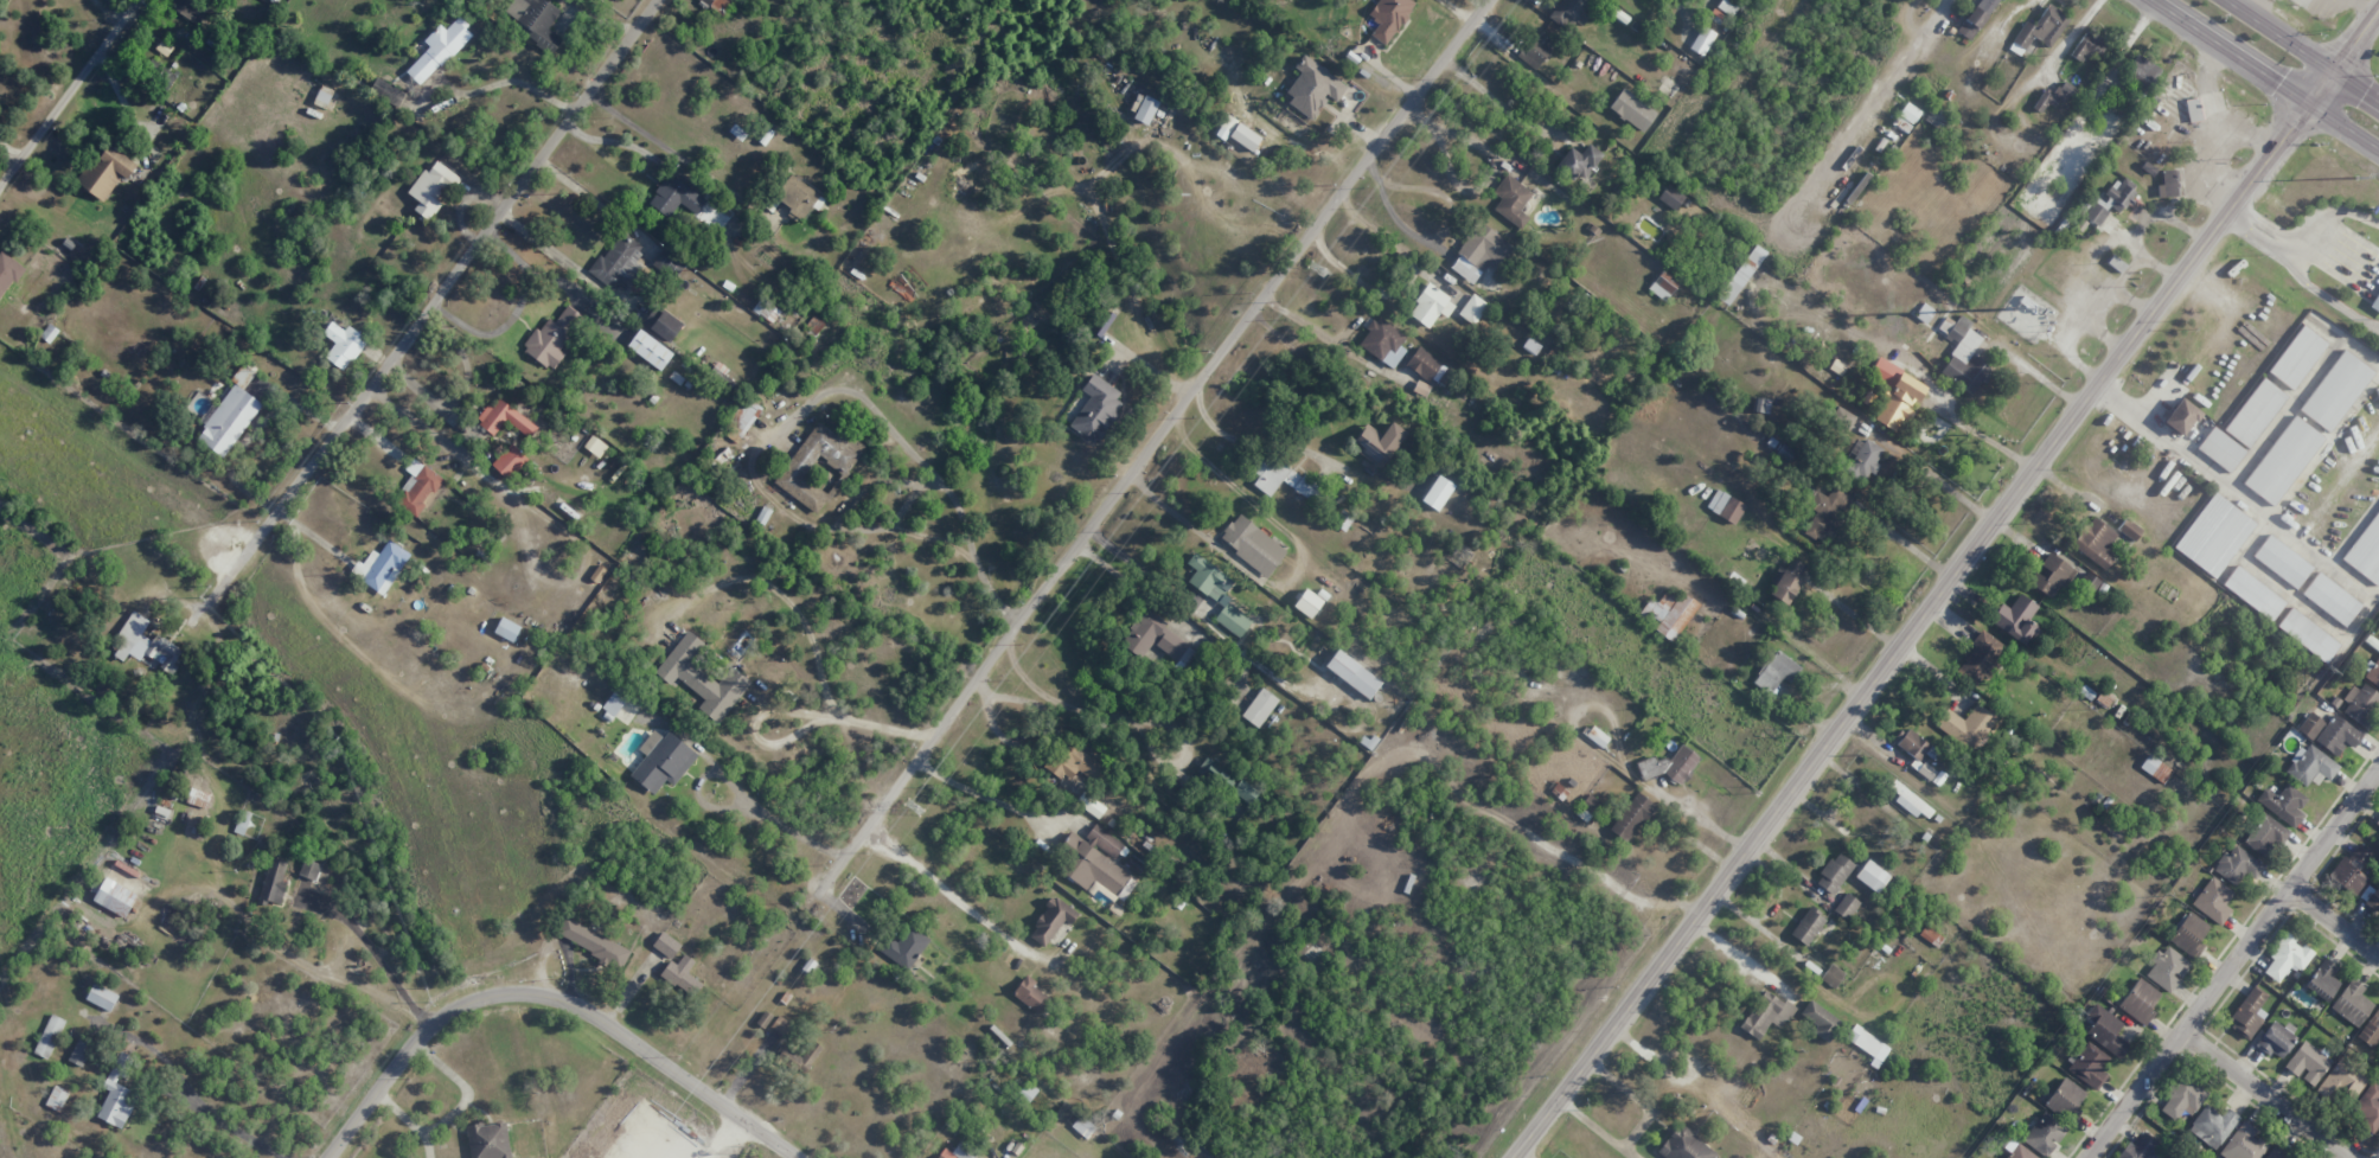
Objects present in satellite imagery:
building: (706, 1)
building: (722, 4)
building: (1726, 7)
building: (191, 9)
building: (1569, 13)
building: (1388, 17)
building: (1977, 18)
building: (533, 21)
building: (2039, 30)
road: (2278, 36)
building: (1702, 40)
road: (2356, 43)
building: (2087, 47)
building: (1535, 49)
traffic signals: (2353, 49)
building: (437, 50)
road: (2230, 52)
building: (2142, 71)
traffic signals: (2278, 84)
building: (1312, 87)
road: (2355, 87)
road: (64, 88)
road: (2321, 88)
building: (386, 92)
building: (2064, 92)
traffic signals: (2366, 94)
building: (2044, 101)
building: (1145, 109)
building: (1631, 109)
building: (2193, 109)
building: (1908, 113)
building: (1228, 124)
traffic signals: (2292, 127)
road: (2343, 127)
building: (1245, 136)
building: (1578, 161)
building: (107, 172)
power tower: (2356, 177)
building: (2168, 184)
building: (431, 188)
building: (673, 197)
building: (797, 197)
building: (1670, 197)
building: (1511, 200)
building: (2110, 201)
building: (1481, 252)
building: (618, 262)
building: (669, 263)
power tower: (1317, 269)
building: (7, 271)
building: (1741, 275)
road: (1401, 276)
building: (1663, 284)
building: (2375, 303)
building: (1431, 306)
road: (429, 307)
building: (1472, 308)
building: (661, 324)
road: (1304, 326)
building: (552, 338)
building: (1383, 341)
building: (343, 345)
building: (650, 350)
building: (1964, 357)
building: (2298, 360)
building: (1428, 367)
building: (1895, 394)
building: (2339, 394)
road: (2153, 399)
road: (2118, 401)
building: (1095, 409)
building: (230, 415)
building: (2257, 415)
building: (744, 417)
building: (504, 418)
building: (2182, 421)
road: (1981, 436)
building: (1379, 443)
road: (1147, 444)
building: (595, 446)
building: (2224, 453)
building: (1863, 459)
road: (919, 460)
building: (2284, 460)
building: (509, 461)
building: (818, 466)
building: (1283, 478)
road: (1943, 480)
building: (417, 486)
building: (1437, 493)
road: (2255, 501)
building: (1725, 506)
building: (1824, 512)
building: (2129, 529)
building: (2217, 537)
building: (2095, 542)
building: (1252, 544)
road: (1905, 544)
building: (2367, 556)
building: (2285, 562)
building: (380, 567)
building: (2051, 575)
building: (1208, 577)
building: (1786, 581)
building: (2090, 582)
building: (2255, 595)
road: (786, 599)
building: (2333, 601)
building: (1307, 603)
building: (1669, 613)
road: (1859, 618)
building: (2015, 618)
building: (1233, 619)
building: (506, 629)
road: (1912, 632)
building: (1156, 639)
building: (2311, 639)
building: (145, 644)
building: (1981, 659)
power tower: (2327, 668)
building: (1776, 671)
building: (1352, 673)
building: (2373, 674)
building: (701, 678)
building: (614, 703)
building: (2361, 704)
building: (1259, 708)
road: (791, 711)
road: (1128, 717)
building: (1968, 725)
building: (2310, 725)
building: (2336, 735)
building: (1595, 736)
road: (1035, 740)
building: (1912, 743)
building: (661, 761)
building: (1075, 763)
building: (1670, 764)
building: (2155, 768)
building: (1926, 770)
road: (736, 788)
building: (1245, 791)
road: (979, 795)
building: (199, 798)
building: (2283, 804)
building: (1587, 807)
power tower: (912, 808)
building: (1631, 817)
building: (2377, 819)
road: (1517, 826)
building: (2265, 834)
building: (1104, 840)
building: (2237, 865)
building: (1093, 868)
building: (309, 870)
building: (2349, 870)
building: (1834, 872)
building: (1872, 876)
building: (274, 881)
building: (114, 897)
building: (2213, 900)
building: (2373, 900)
building: (1846, 906)
building: (1051, 920)
road: (2335, 923)
building: (1808, 926)
building: (2188, 934)
building: (1929, 935)
building: (593, 942)
building: (666, 945)
building: (904, 947)
building: (2287, 958)
road: (2234, 965)
building: (2167, 968)
building: (680, 975)
building: (1831, 975)
building: (2321, 980)
building: (1029, 994)
road: (551, 996)
building: (101, 997)
building: (2138, 1002)
building: (2351, 1003)
power tower: (2073, 1009)
building: (2247, 1012)
building: (1765, 1015)
building: (1818, 1019)
building: (780, 1025)
building: (2371, 1029)
building: (2105, 1030)
building: (49, 1036)
building: (2276, 1038)
building: (79, 1051)
building: (799, 1054)
building: (2307, 1063)
building: (2089, 1066)
building: (2342, 1079)
road: (465, 1088)
road: (2266, 1096)
building: (57, 1098)
building: (2182, 1098)
building: (2066, 1099)
building: (2368, 1107)
road: (409, 1122)
building: (1082, 1126)
building: (2212, 1126)
building: (2044, 1133)
building: (488, 1140)
building: (2243, 1143)
building: (1684, 1145)
building: (2138, 1149)
building: (957, 1152)
building: (2019, 1152)
building: (2277, 1152)
building: (2168, 1156)

